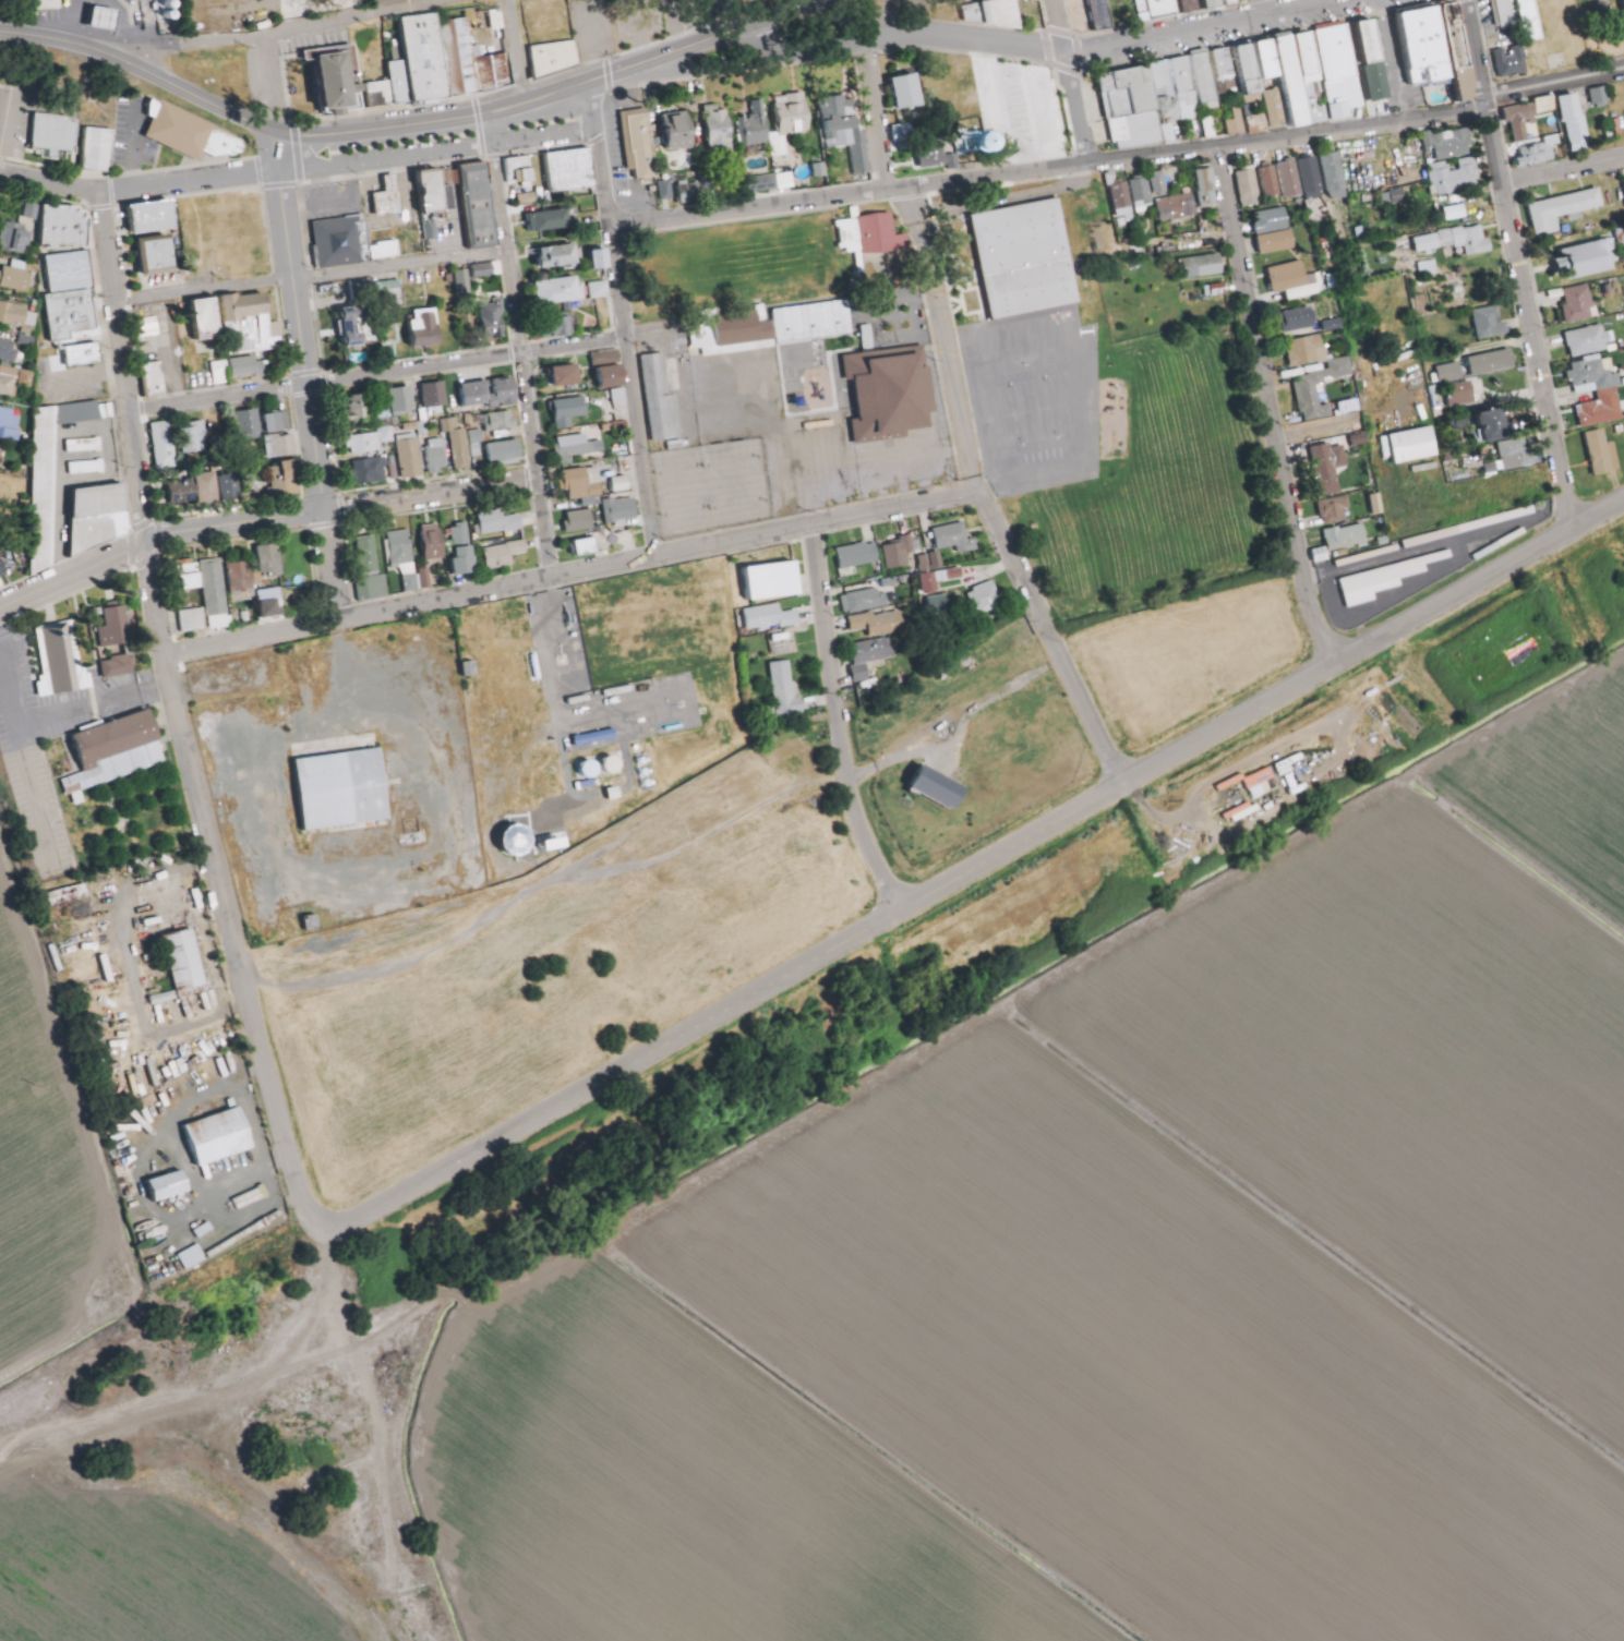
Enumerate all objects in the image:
building: (1249, 0)
building: (387, 1)
building: (347, 2)
building: (1232, 2)
building: (1215, 3)
building: (49, 4)
building: (167, 5)
building: (1193, 5)
building: (1158, 9)
park: (910, 10)
road: (755, 12)
building: (995, 13)
building: (1506, 13)
building: (107, 14)
parking lot: (1489, 14)
building: (1104, 15)
park: (1052, 16)
road: (1593, 17)
building: (1530, 20)
park: (654, 21)
road: (883, 22)
road: (1059, 27)
road: (1210, 28)
park: (1605, 29)
road: (270, 33)
road: (783, 36)
road: (713, 38)
park: (1561, 40)
building: (1371, 41)
road: (964, 43)
road: (639, 45)
building: (1425, 46)
road: (825, 49)
building: (1459, 51)
road: (515, 52)
building: (1310, 52)
building: (426, 53)
building: (461, 55)
building: (556, 57)
building: (1512, 63)
building: (1271, 65)
road: (691, 67)
road: (1008, 67)
building: (1251, 69)
road: (1396, 69)
road: (140, 70)
building: (495, 71)
road: (1044, 71)
building: (1228, 71)
building: (1342, 71)
parking lot: (1400, 74)
building: (340, 76)
building: (1207, 77)
building: (402, 80)
building: (1294, 81)
building: (1379, 81)
road: (267, 82)
building: (1188, 88)
road: (562, 92)
building: (907, 92)
building: (383, 93)
building: (1601, 97)
building: (1318, 98)
building: (1170, 101)
park: (999, 105)
building: (1548, 106)
building: (1132, 107)
road: (1076, 109)
building: (1278, 109)
parking lot: (1023, 112)
building: (794, 116)
road: (875, 117)
building: (1523, 118)
building: (1576, 121)
building: (1235, 122)
road: (400, 126)
building: (720, 126)
building: (757, 126)
parking lot: (549, 128)
building: (679, 129)
road: (1027, 129)
building: (847, 130)
building: (192, 133)
building: (57, 135)
building: (900, 136)
water tower: (964, 142)
building: (1451, 142)
building: (643, 145)
building: (100, 148)
road: (438, 152)
building: (1539, 153)
building: (937, 154)
parking lot: (627, 158)
road: (1120, 159)
road: (1563, 170)
building: (522, 172)
building: (573, 172)
building: (1336, 174)
building: (1314, 178)
building: (1461, 179)
building: (1292, 180)
building: (1271, 181)
building: (769, 182)
building: (1403, 182)
building: (1157, 183)
building: (1623, 184)
building: (1207, 185)
road: (139, 188)
building: (1250, 189)
building: (432, 190)
building: (663, 190)
building: (690, 192)
building: (1144, 193)
parking lot: (337, 196)
building: (389, 196)
building: (1124, 200)
building: (479, 205)
road: (919, 206)
building: (1179, 209)
building: (28, 210)
building: (1564, 210)
building: (1457, 215)
building: (154, 218)
building: (550, 220)
building: (1272, 222)
building: (67, 227)
building: (878, 232)
building: (16, 238)
building: (846, 238)
building: (349, 240)
building: (1456, 242)
building: (1278, 243)
building: (159, 253)
building: (561, 256)
building: (1025, 258)
building: (600, 260)
building: (1586, 261)
road: (1519, 265)
building: (1202, 267)
building: (482, 269)
building: (1430, 269)
building: (71, 272)
road: (312, 275)
building: (1289, 277)
building: (17, 278)
building: (596, 289)
building: (562, 290)
building: (388, 292)
building: (1216, 292)
building: (1579, 304)
building: (72, 312)
building: (13, 314)
road: (623, 316)
building: (207, 318)
road: (300, 319)
building: (493, 321)
building: (1302, 322)
building: (249, 323)
building: (814, 324)
building: (1490, 324)
building: (557, 326)
building: (151, 327)
building: (353, 327)
building: (745, 328)
building: (425, 331)
building: (1590, 341)
road: (520, 345)
building: (9, 348)
building: (1310, 351)
building: (86, 353)
road: (952, 358)
building: (1492, 363)
building: (250, 366)
road: (124, 367)
building: (217, 372)
building: (610, 372)
building: (1451, 372)
road: (377, 374)
building: (565, 376)
building: (1595, 377)
building: (154, 378)
building: (15, 379)
building: (1321, 391)
building: (489, 393)
building: (890, 393)
building: (1463, 395)
building: (437, 400)
building: (662, 400)
building: (406, 403)
road: (1271, 407)
building: (1348, 407)
building: (352, 409)
building: (1601, 410)
building: (362, 411)
building: (80, 412)
building: (570, 412)
building: (278, 420)
building: (251, 421)
building: (497, 421)
building: (1492, 422)
building: (11, 423)
building: (197, 438)
building: (366, 443)
building: (455, 443)
building: (472, 443)
building: (86, 444)
building: (165, 445)
building: (281, 445)
building: (1414, 446)
building: (574, 448)
building: (505, 454)
building: (1603, 455)
building: (440, 456)
building: (1517, 457)
building: (413, 459)
building: (88, 468)
building: (1330, 468)
building: (372, 470)
building: (281, 480)
building: (618, 484)
building: (580, 485)
building: (230, 486)
building: (46, 488)
building: (184, 492)
road: (432, 495)
building: (1373, 504)
building: (1335, 511)
building: (98, 514)
building: (621, 514)
building: (582, 521)
road: (234, 523)
building: (498, 523)
building: (1471, 529)
building: (955, 540)
building: (1347, 542)
building: (434, 543)
building: (1500, 546)
building: (587, 547)
building: (465, 550)
building: (405, 551)
building: (370, 553)
building: (900, 553)
road: (1403, 554)
building: (507, 556)
building: (1368, 557)
building: (861, 558)
building: (272, 559)
building: (926, 563)
building: (2, 565)
road: (333, 565)
road: (570, 572)
road: (73, 575)
building: (190, 577)
building: (423, 578)
building: (772, 580)
building: (1386, 581)
building: (241, 582)
building: (931, 584)
building: (216, 588)
building: (370, 588)
building: (983, 596)
building: (865, 602)
building: (274, 605)
building: (935, 605)
building: (771, 618)
building: (194, 620)
building: (879, 624)
building: (116, 627)
road: (1052, 637)
building: (871, 657)
road: (344, 659)
building: (62, 662)
park: (1194, 664)
building: (119, 665)
building: (786, 689)
building: (621, 693)
building: (580, 701)
road: (67, 711)
road: (839, 723)
building: (598, 738)
building: (117, 752)
parking lot: (51, 756)
building: (614, 763)
park: (970, 763)
building: (592, 769)
building: (344, 786)
building: (939, 787)
road: (32, 789)
road: (1191, 793)
building: (519, 840)
building: (557, 843)
road: (1160, 846)
road: (669, 864)
road: (313, 865)
road: (976, 869)
road: (222, 889)
road: (121, 909)
park: (997, 928)
park: (563, 961)
building: (185, 963)
road: (895, 998)
road: (1001, 1018)
building: (219, 1138)
crop: (47, 1186)
building: (170, 1187)
building: (252, 1199)
crop: (1115, 1206)
building: (206, 1232)
building: (194, 1258)
road: (56, 1342)
road: (320, 1364)
road: (190, 1410)
road: (394, 1433)
crop: (155, 1561)

